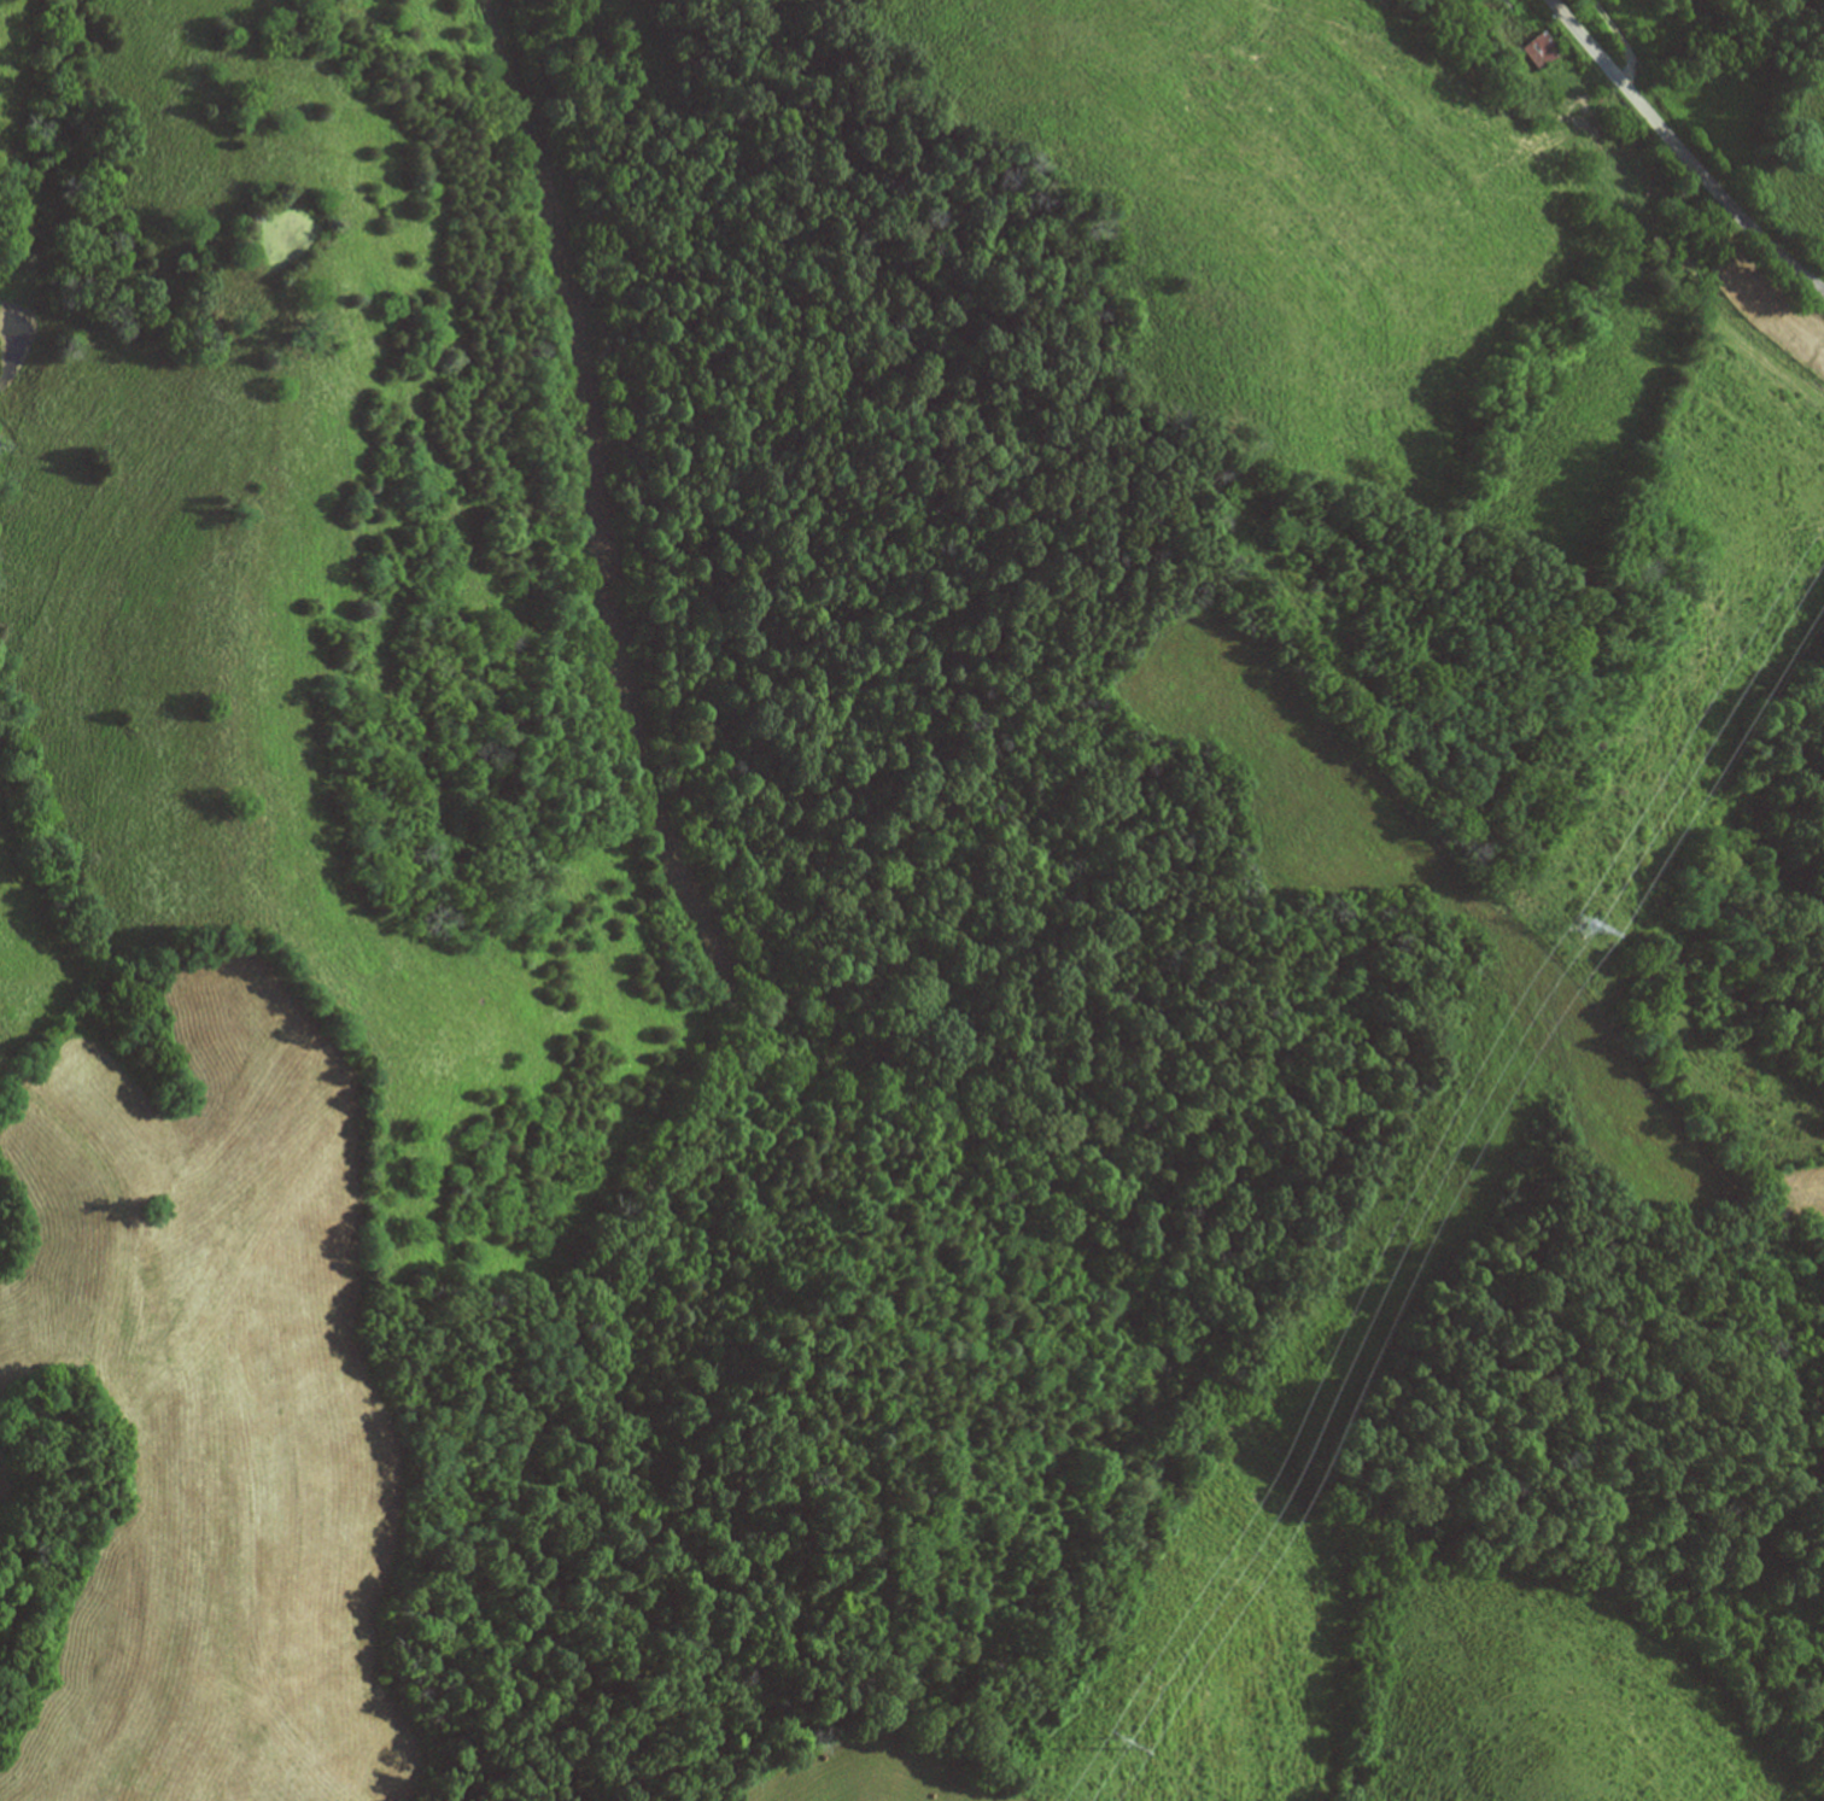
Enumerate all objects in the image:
building: (1548, 51)
road: (1683, 150)
building: (1661, 255)
power tower: (1583, 926)
power tower: (1110, 1739)

